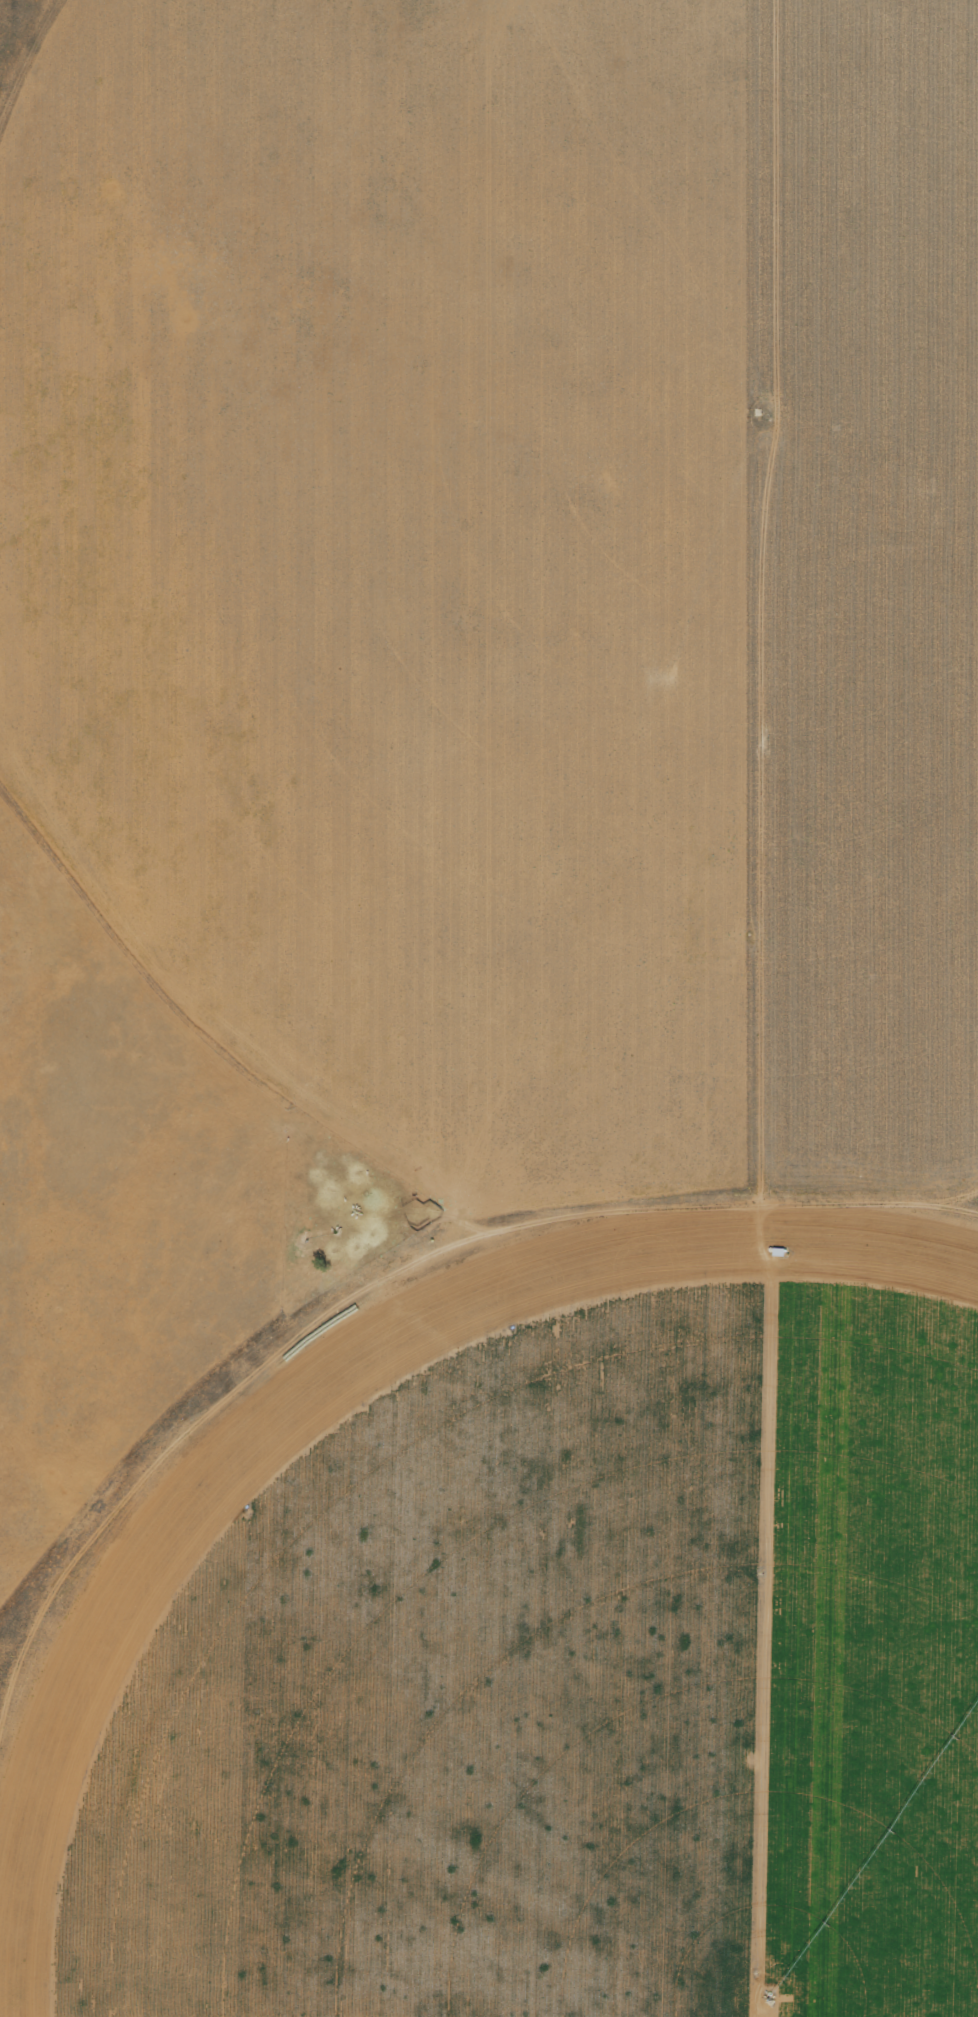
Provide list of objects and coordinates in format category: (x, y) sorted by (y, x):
road: (25, 38)
road: (411, 1211)
road: (755, 1613)

